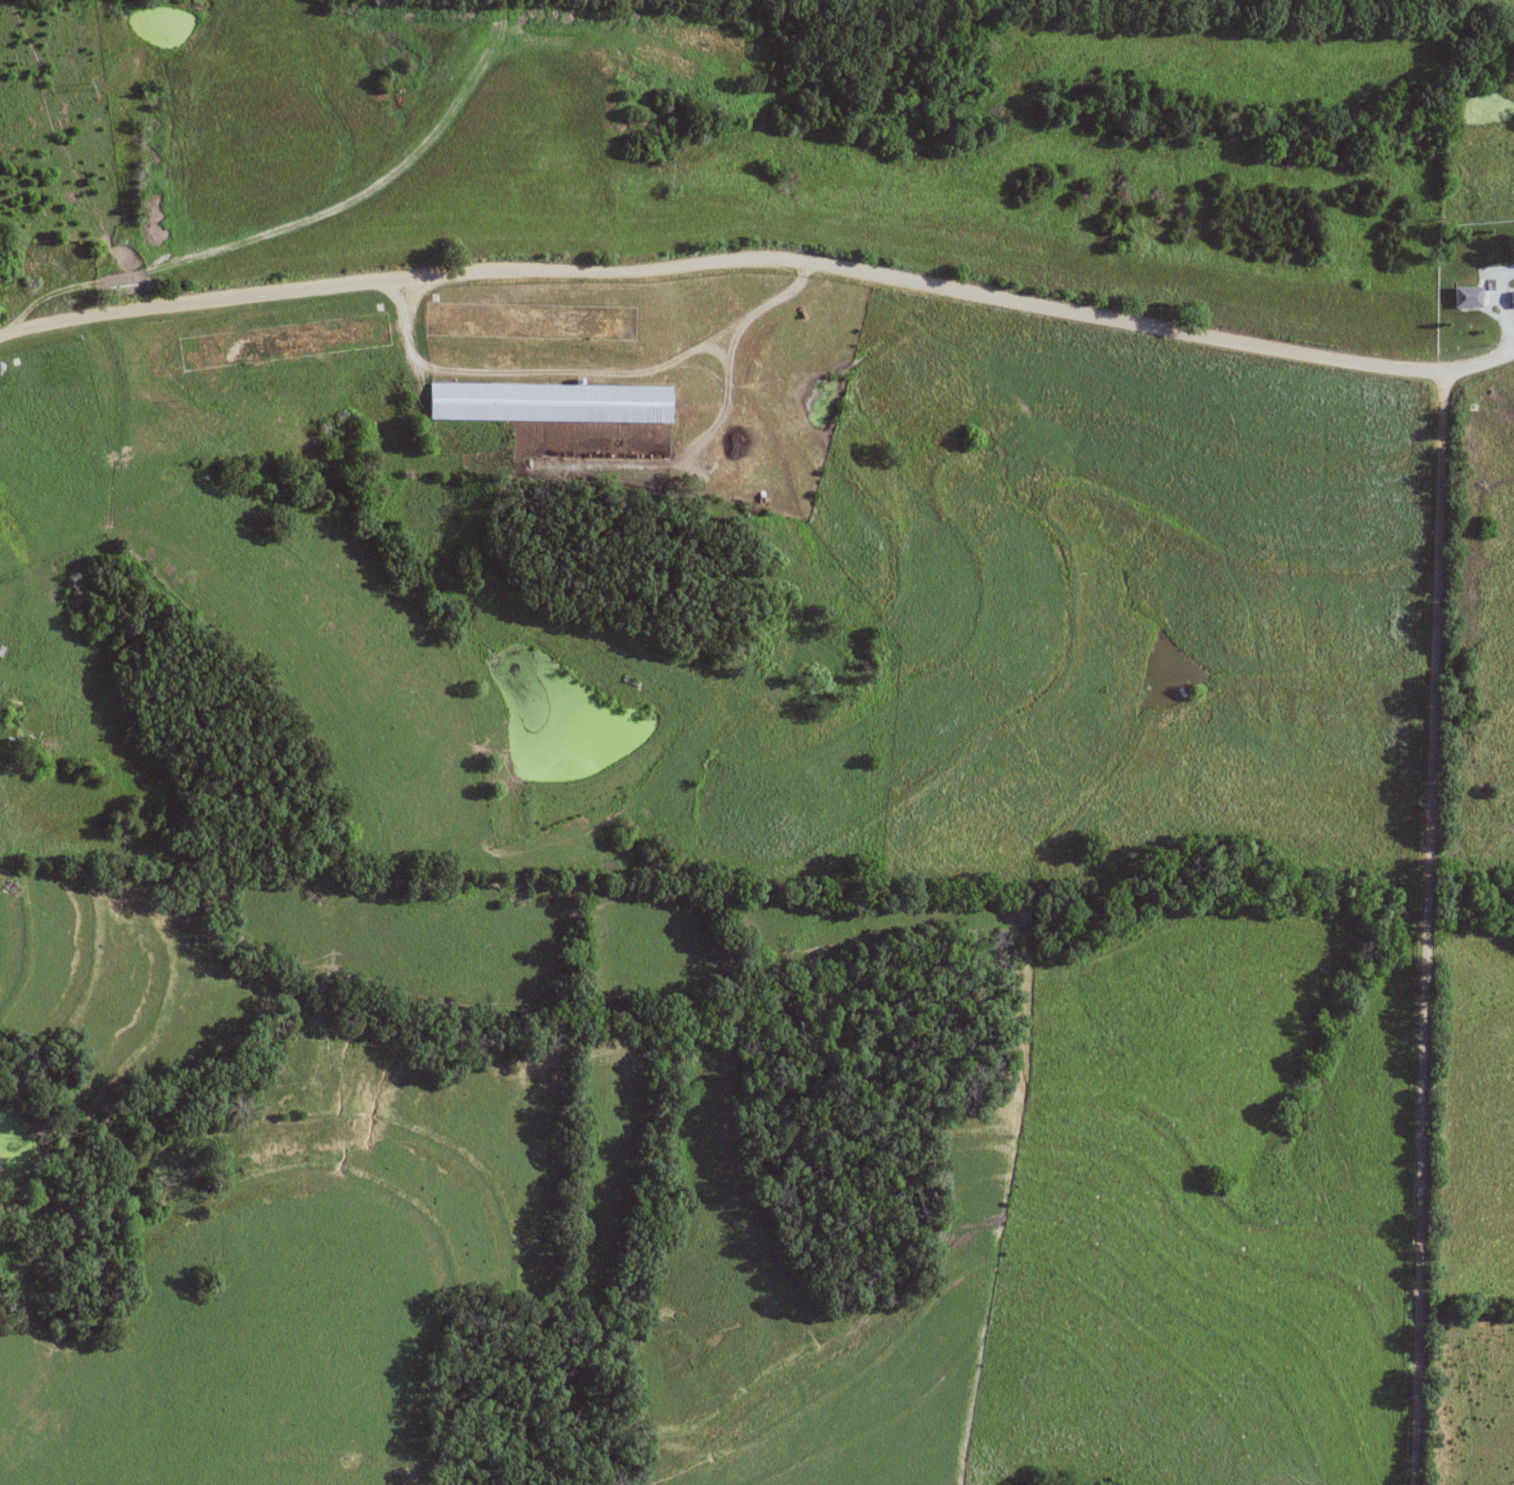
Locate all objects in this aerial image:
road: (760, 261)
building: (1466, 295)
building: (526, 323)
building: (281, 343)
road: (584, 370)
building: (545, 404)
building: (478, 715)
road: (1427, 926)

